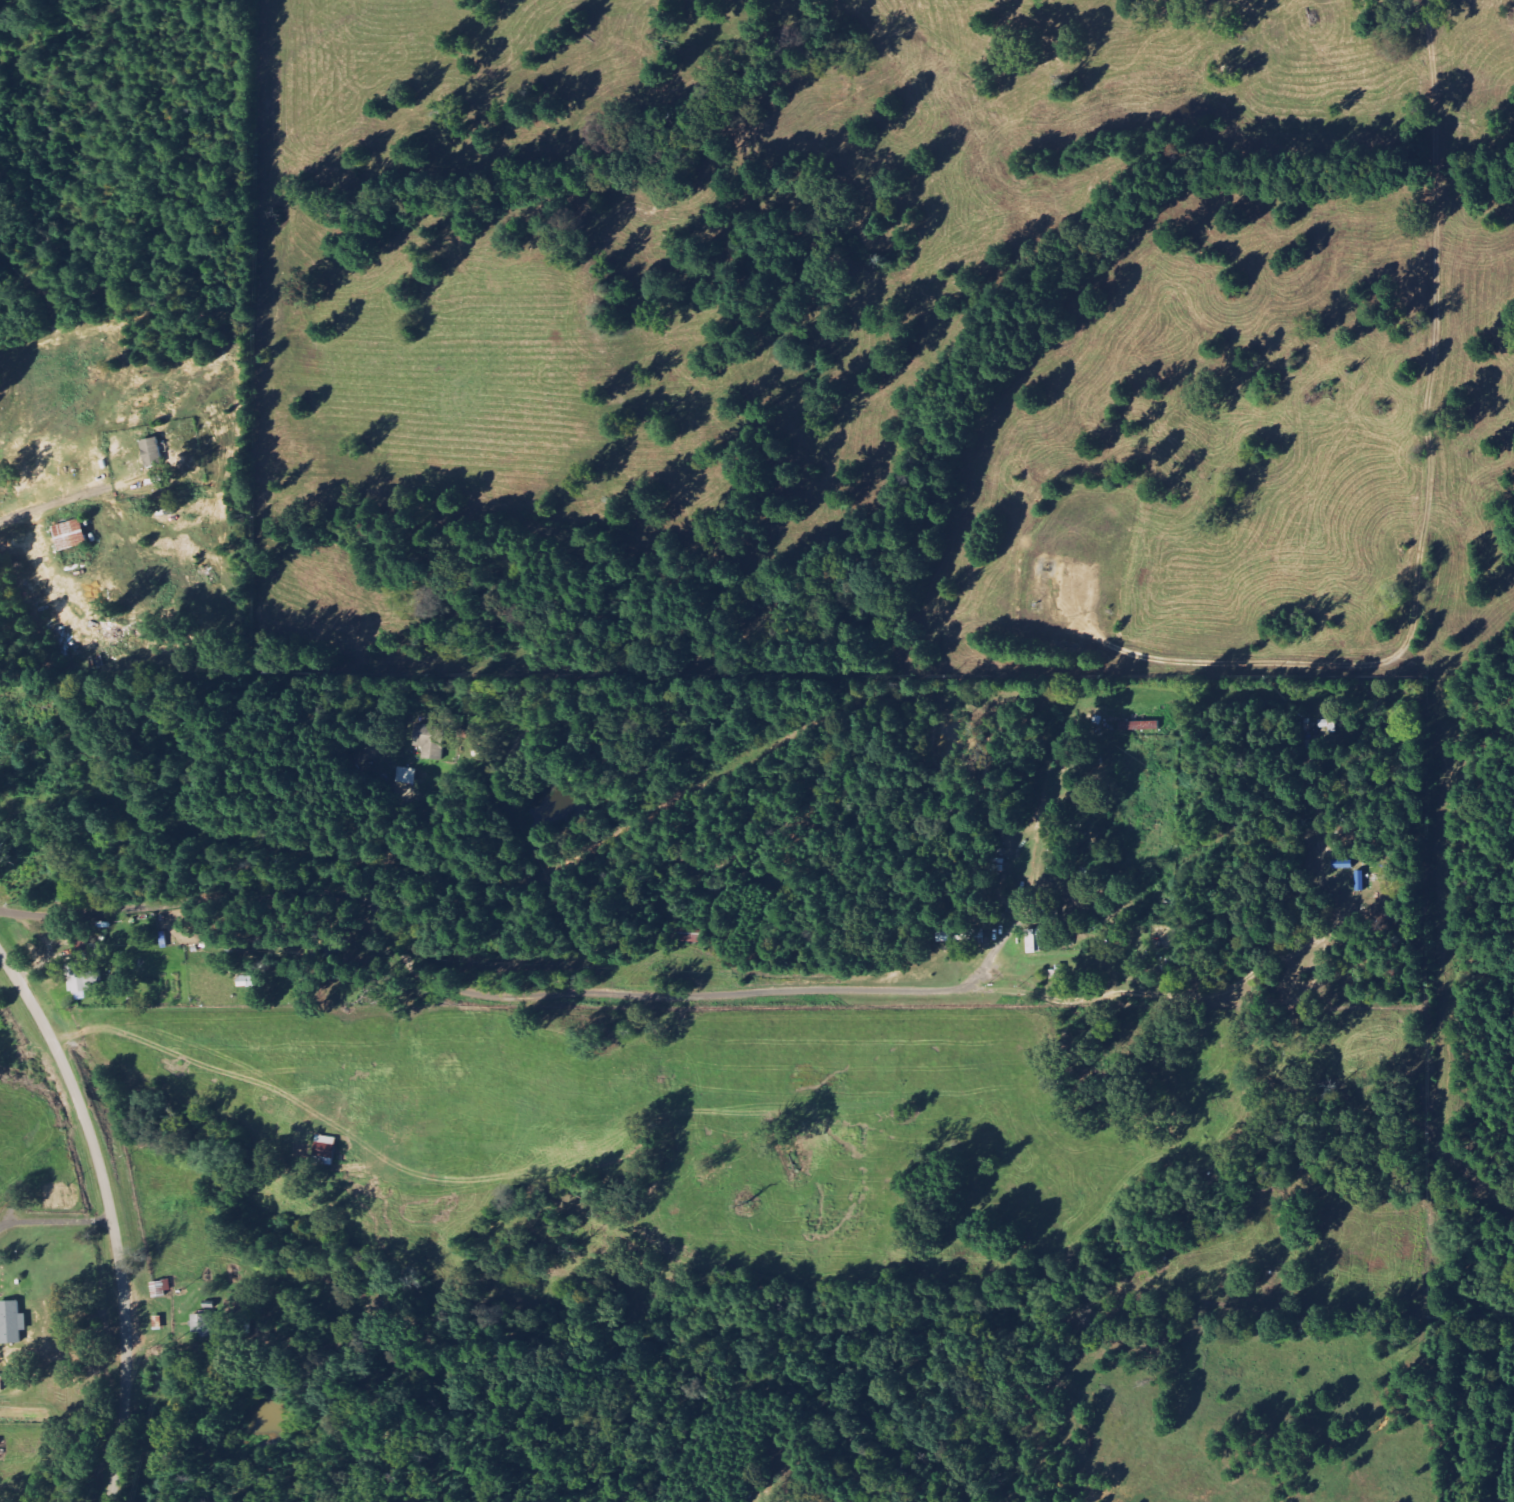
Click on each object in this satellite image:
building: (154, 451)
building: (71, 534)
building: (1140, 725)
building: (431, 740)
building: (953, 936)
building: (1035, 940)
building: (1129, 964)
building: (83, 979)
road: (561, 993)
building: (326, 1150)
road: (111, 1215)
building: (12, 1322)
building: (1, 1383)

